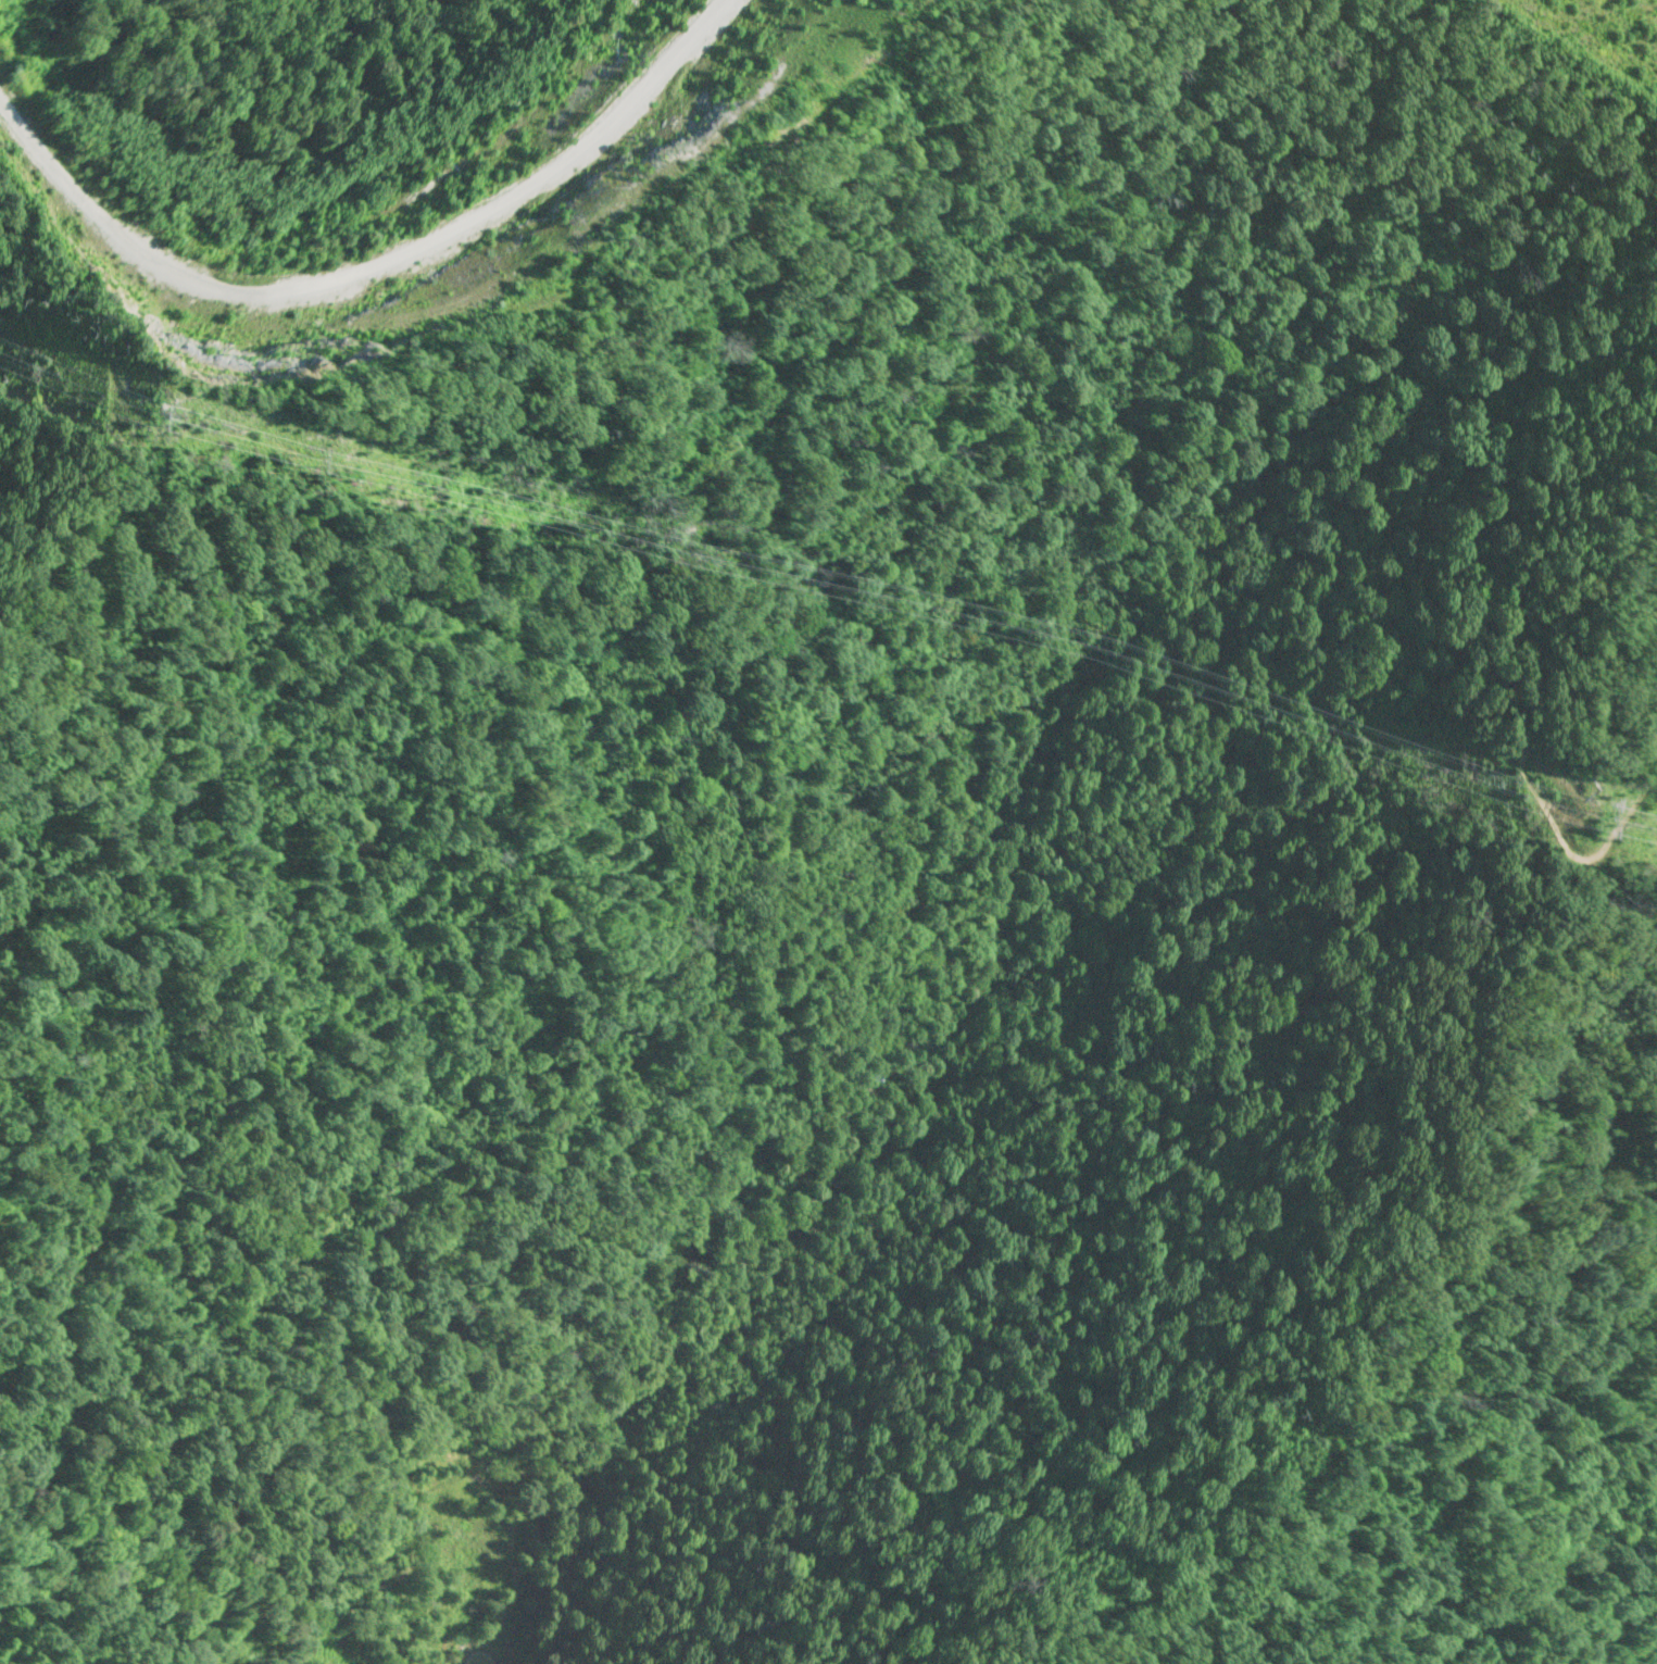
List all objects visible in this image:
road: (390, 303)

